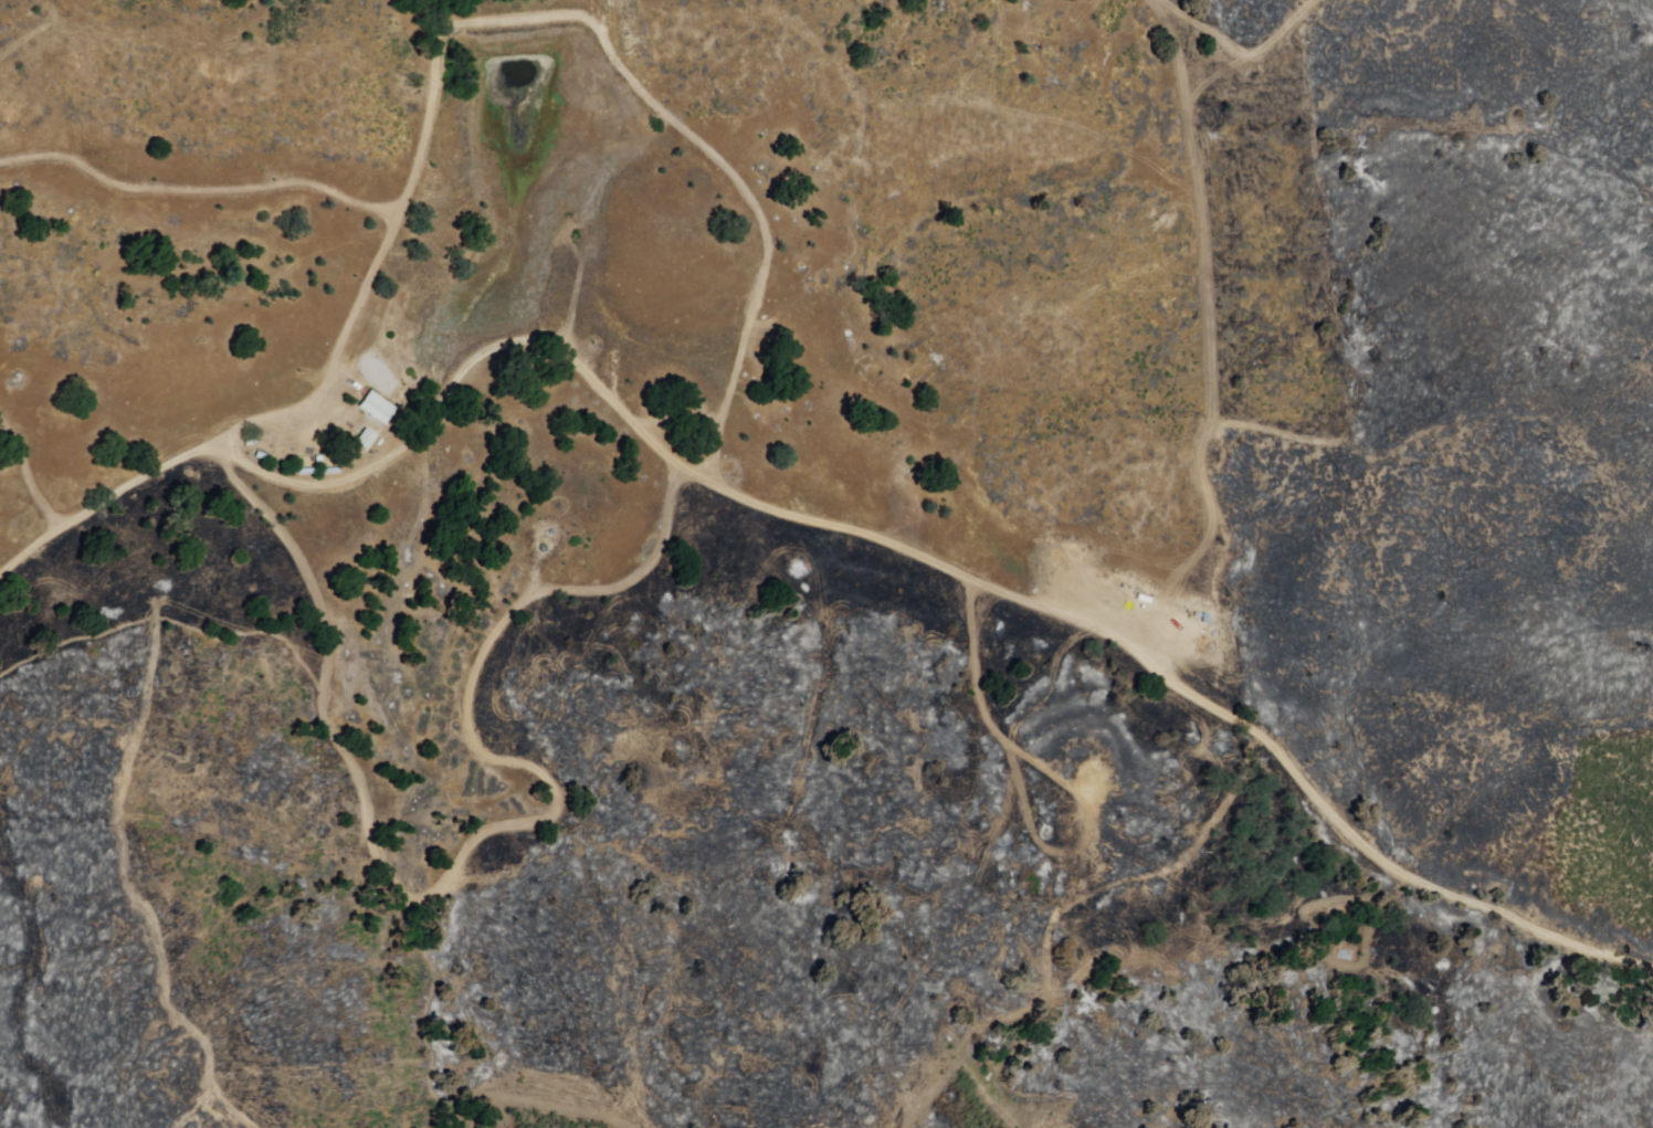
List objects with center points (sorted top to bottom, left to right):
road: (327, 372)
building: (377, 407)
building: (337, 420)
building: (365, 438)
building: (317, 467)
road: (893, 551)
building: (1144, 600)

